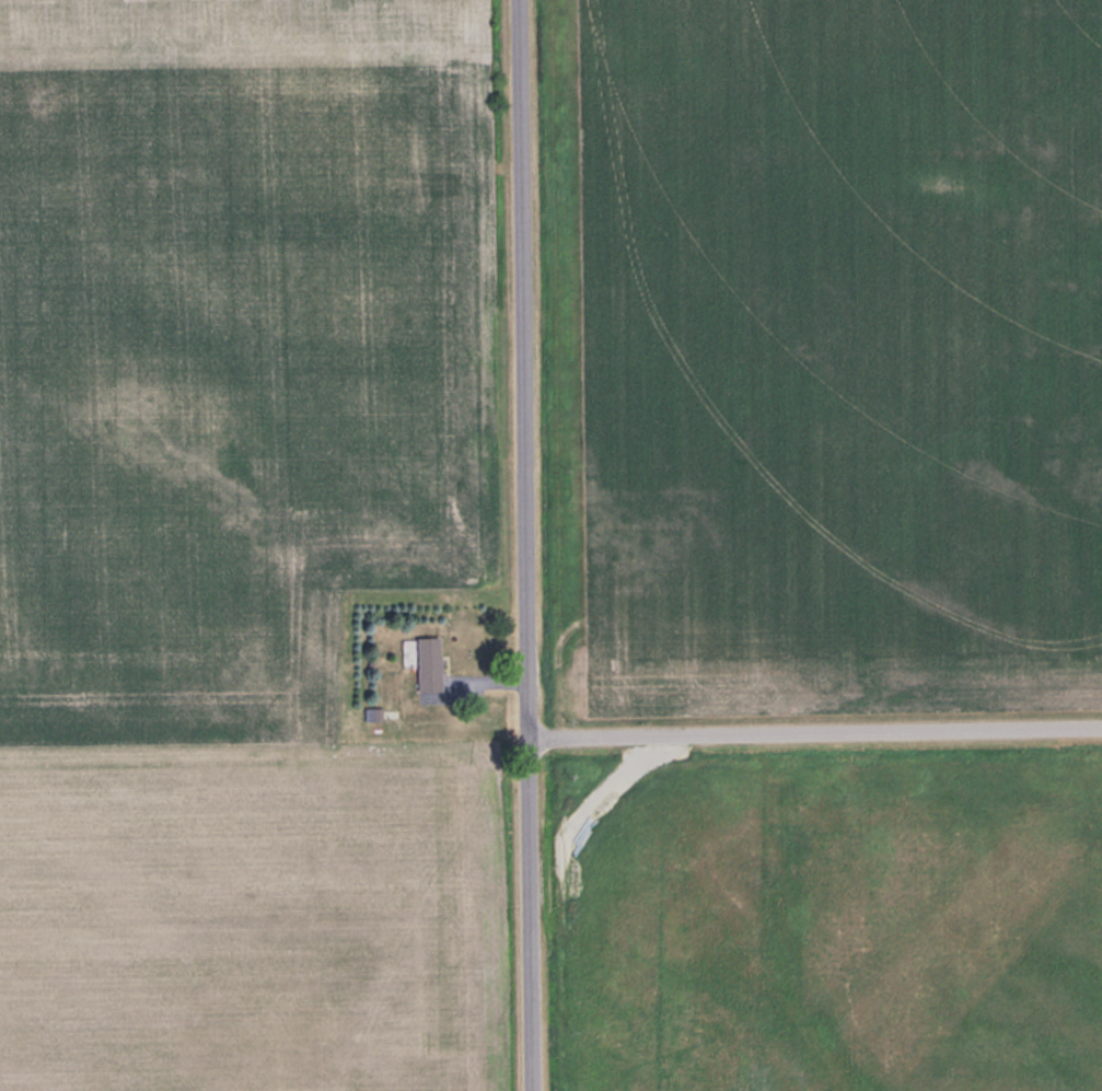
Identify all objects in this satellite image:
road: (529, 545)
building: (426, 660)
building: (373, 712)
road: (816, 738)

